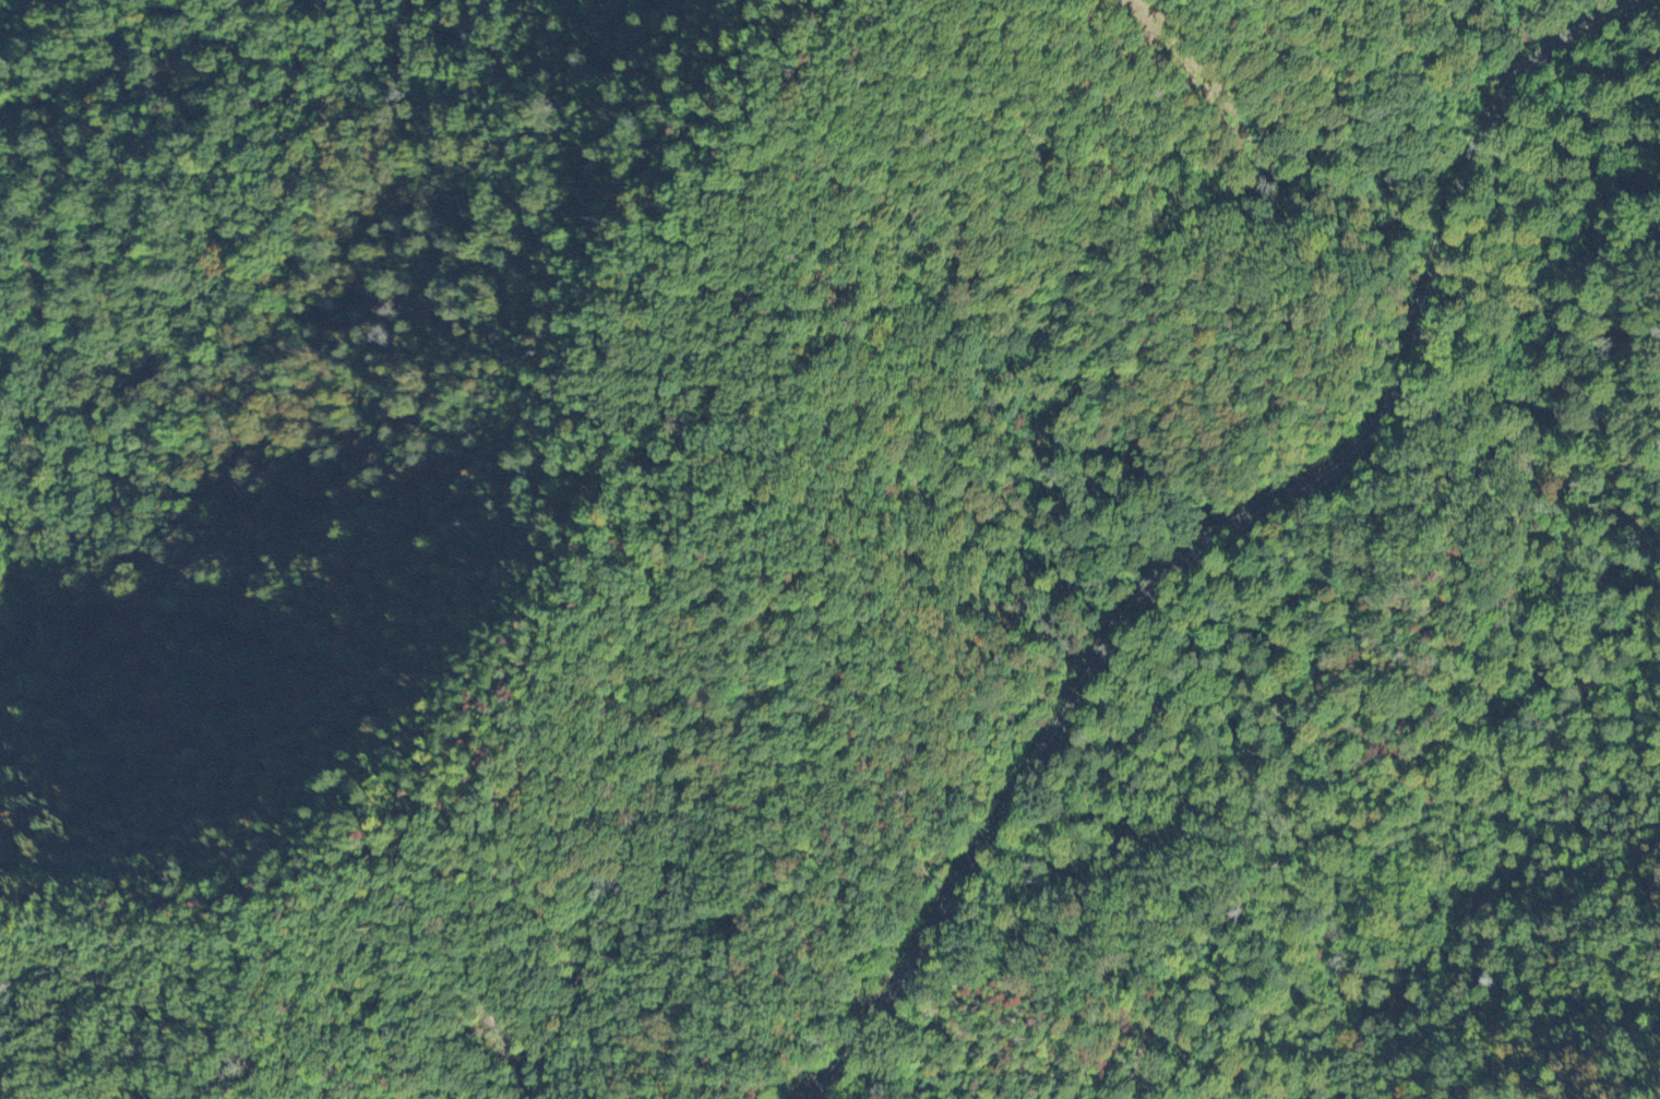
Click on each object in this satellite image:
road: (1227, 528)
road: (1031, 949)
road: (1153, 1023)

